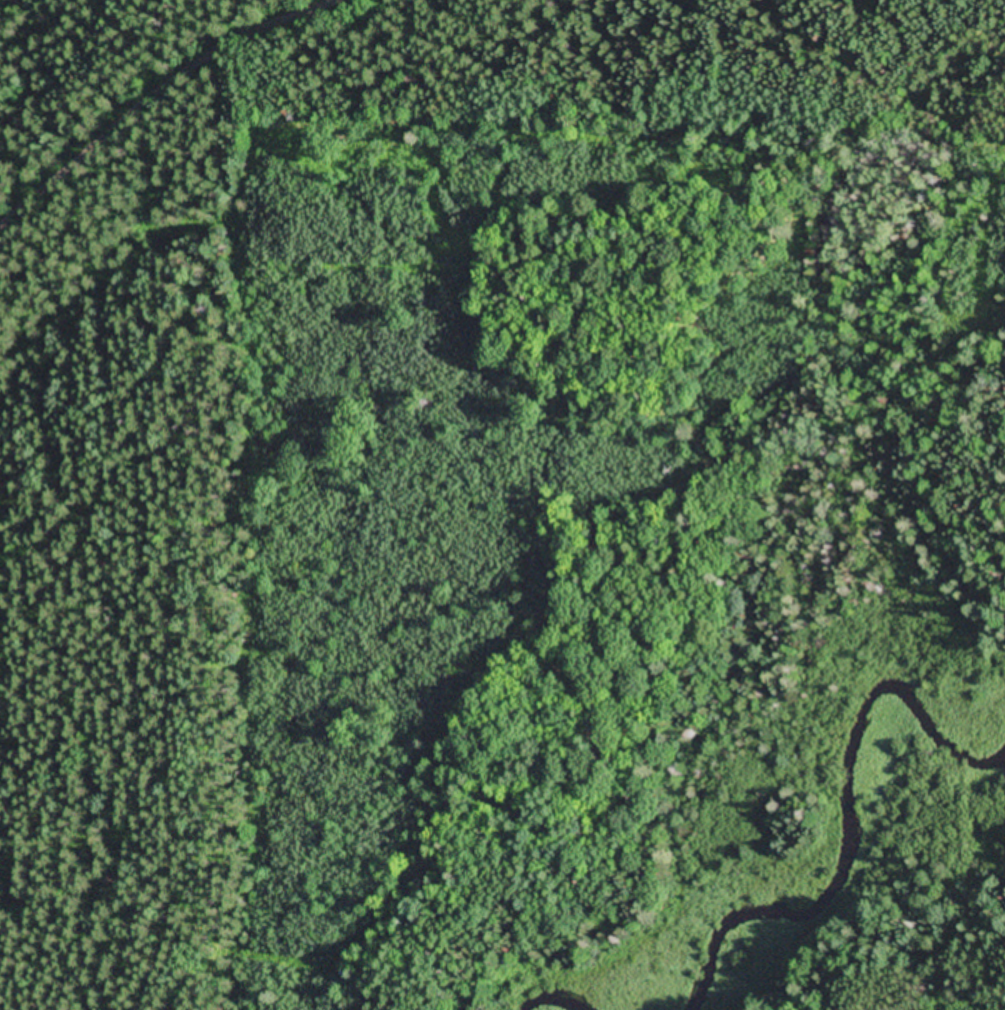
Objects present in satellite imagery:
road: (169, 106)
road: (97, 504)

